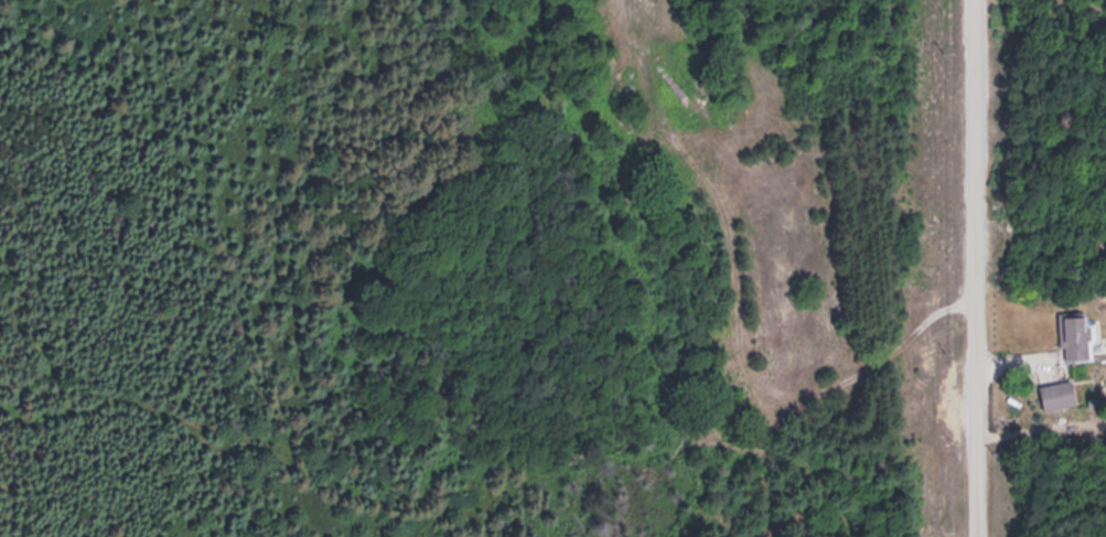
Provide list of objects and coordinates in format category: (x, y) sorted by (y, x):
road: (975, 268)
building: (1072, 332)
building: (1056, 393)

